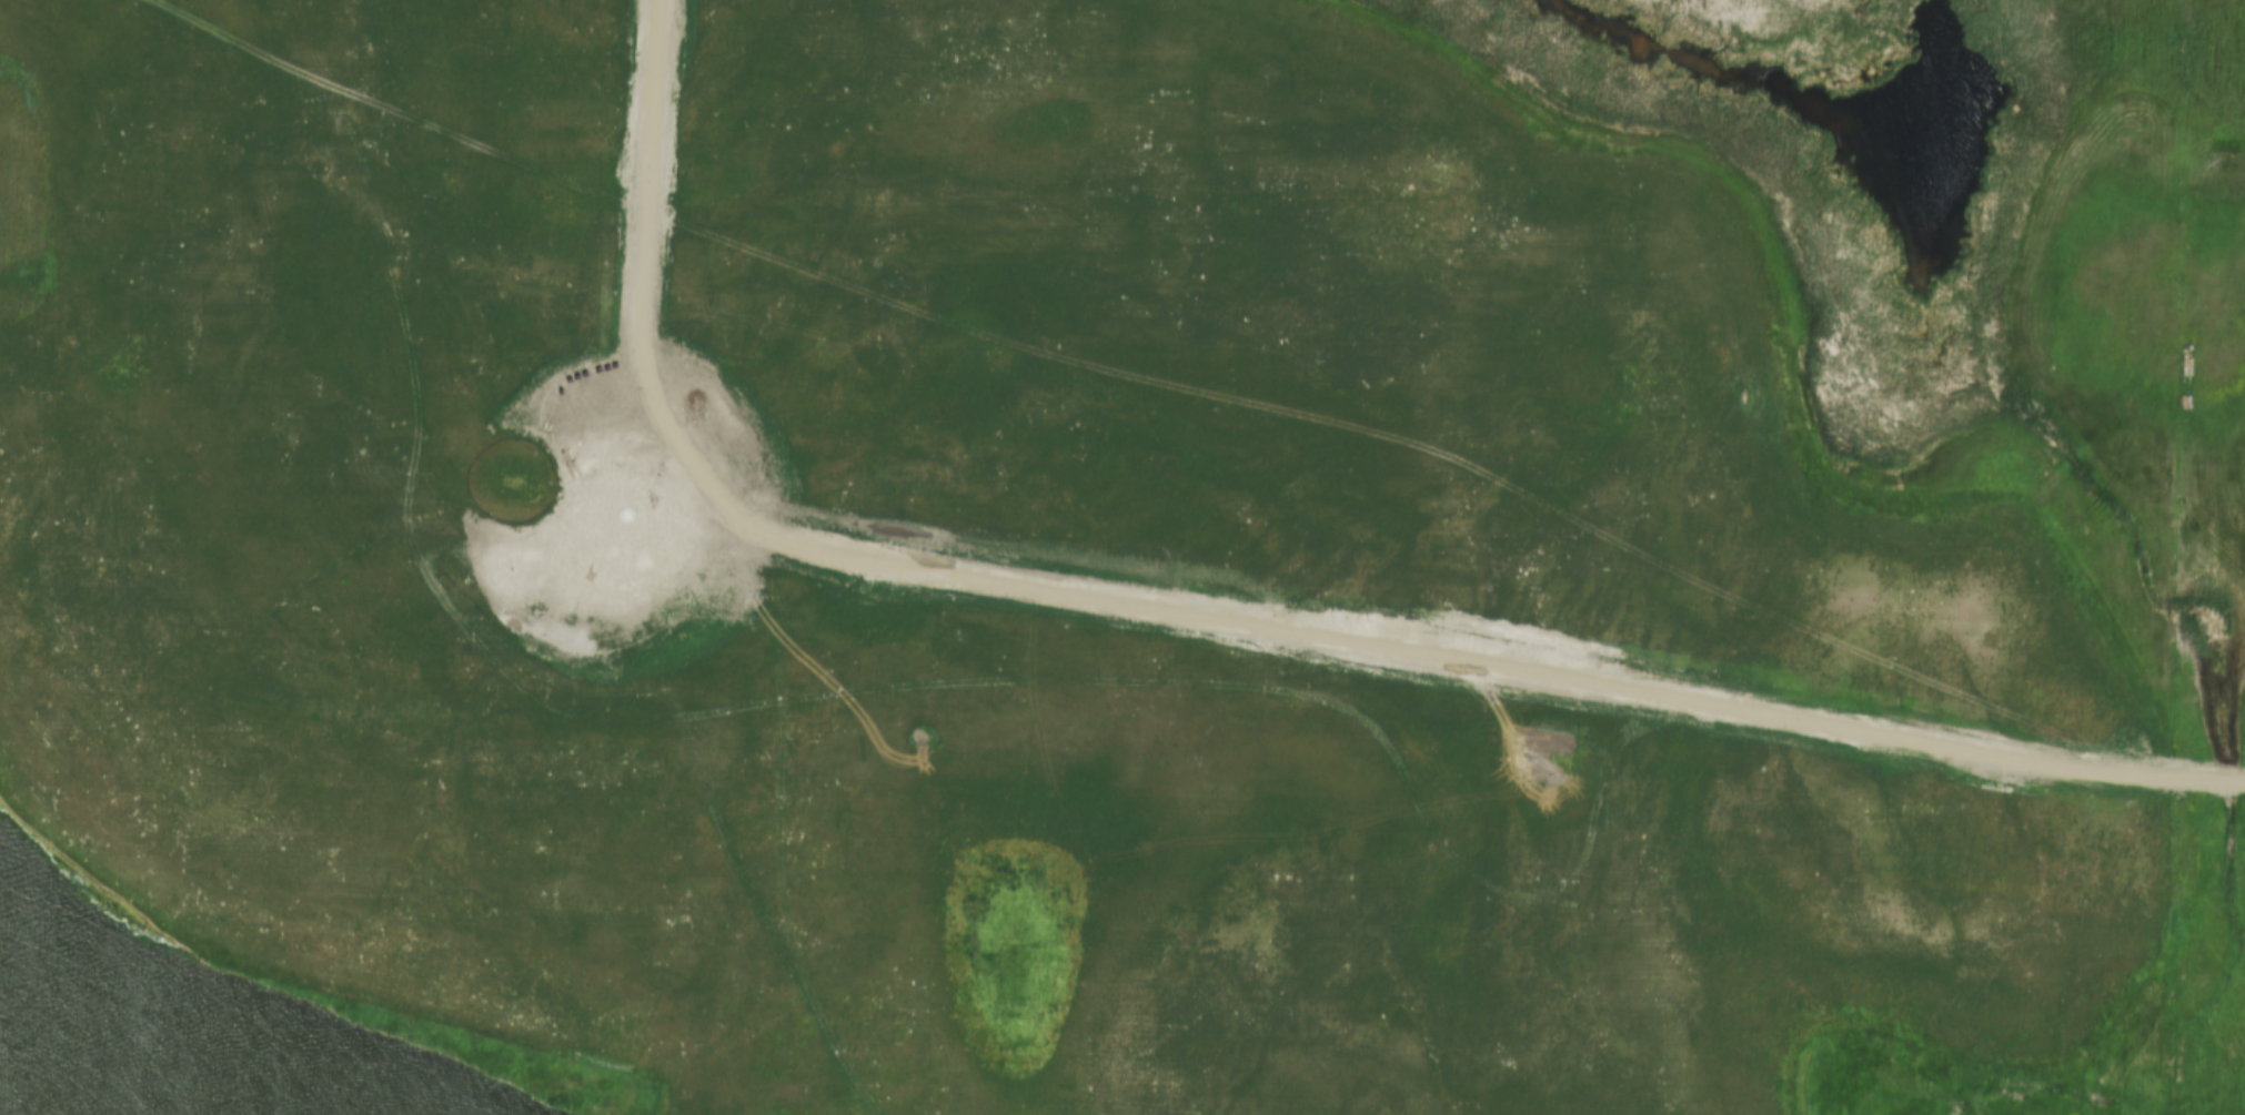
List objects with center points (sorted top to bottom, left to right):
wind turbine: (624, 513)

